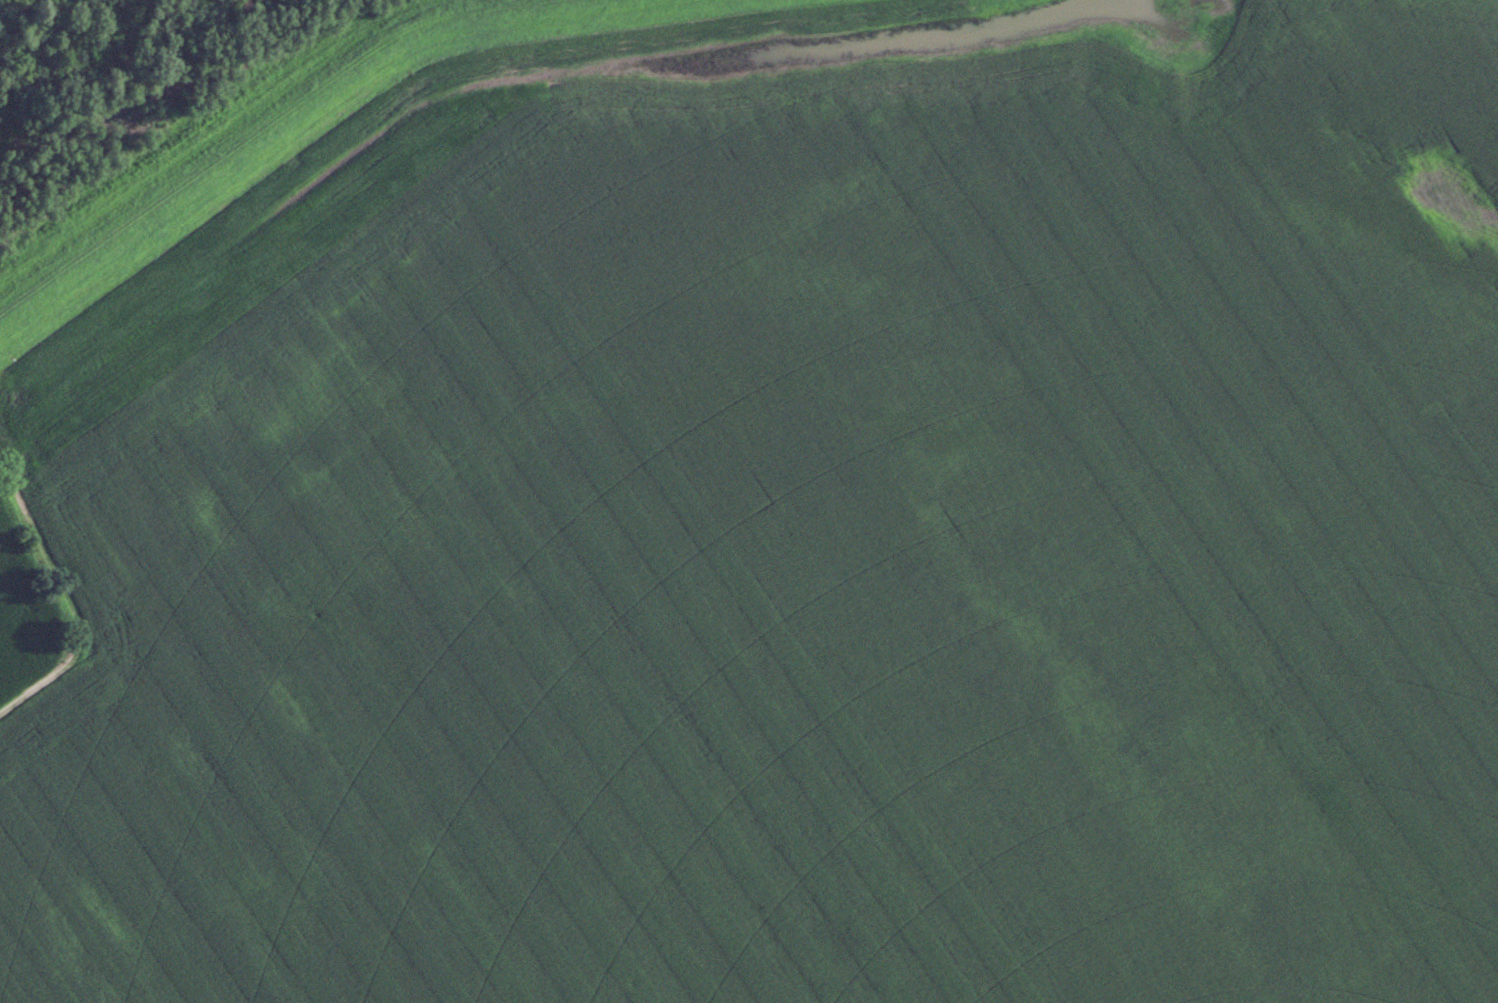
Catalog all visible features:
road: (33, 689)

